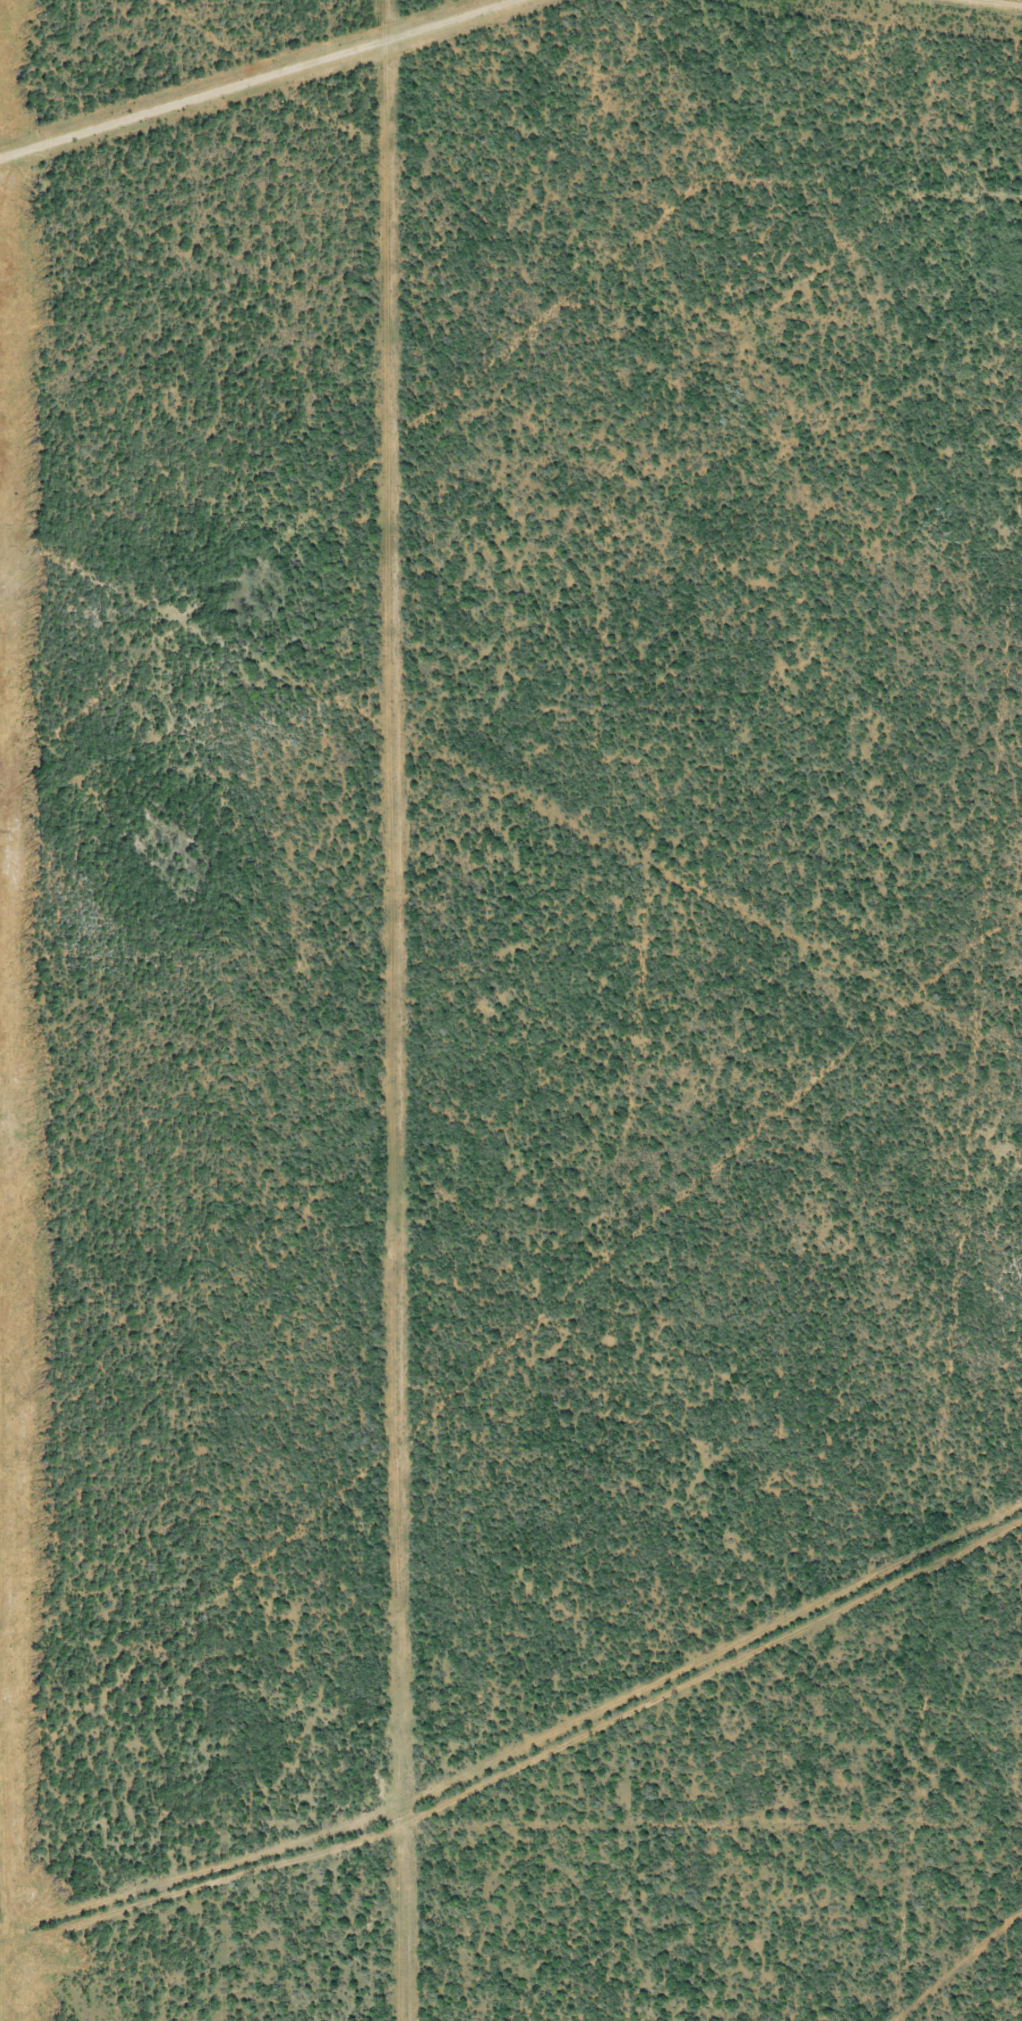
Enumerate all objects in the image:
road: (420, 1010)

